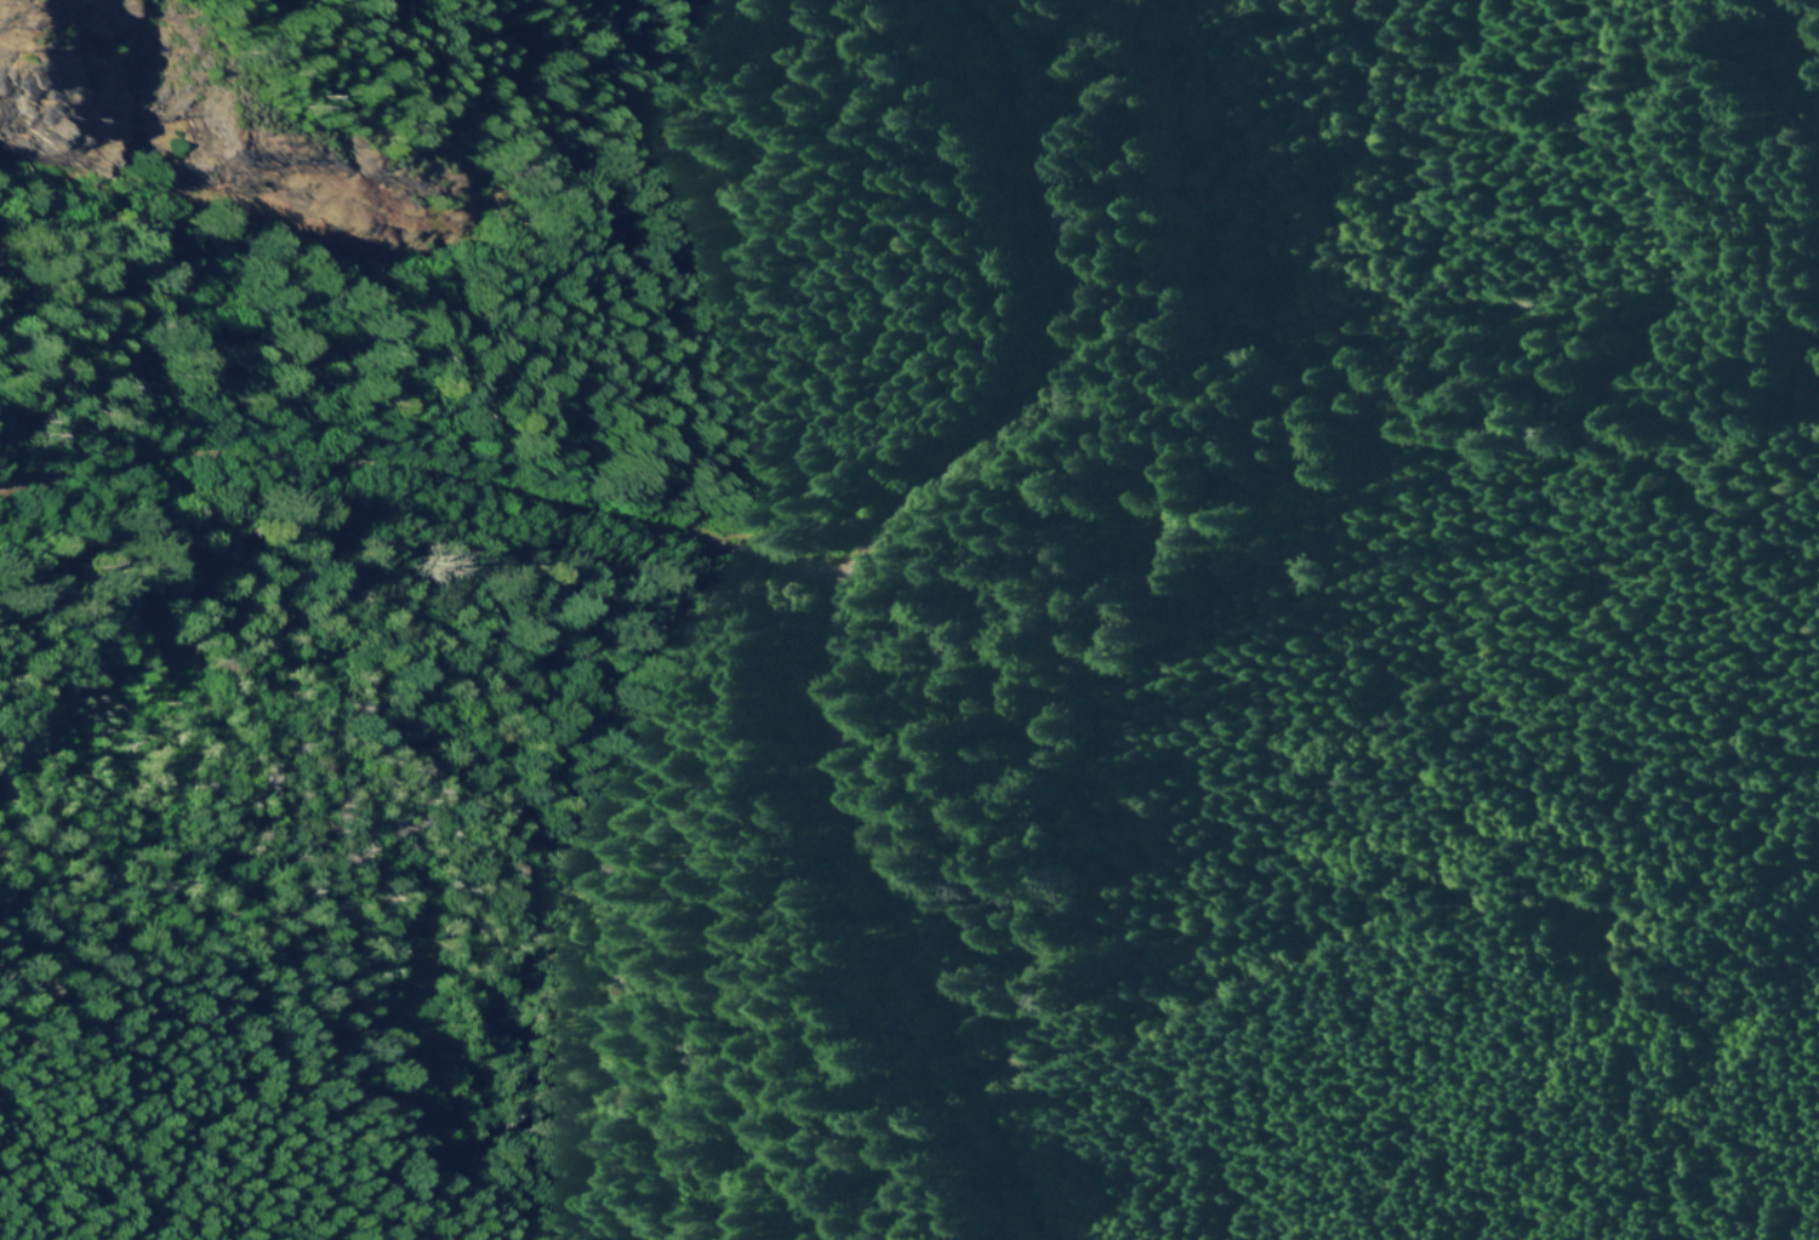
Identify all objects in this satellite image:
road: (831, 417)
road: (426, 465)
parking lot: (789, 571)
road: (842, 587)

